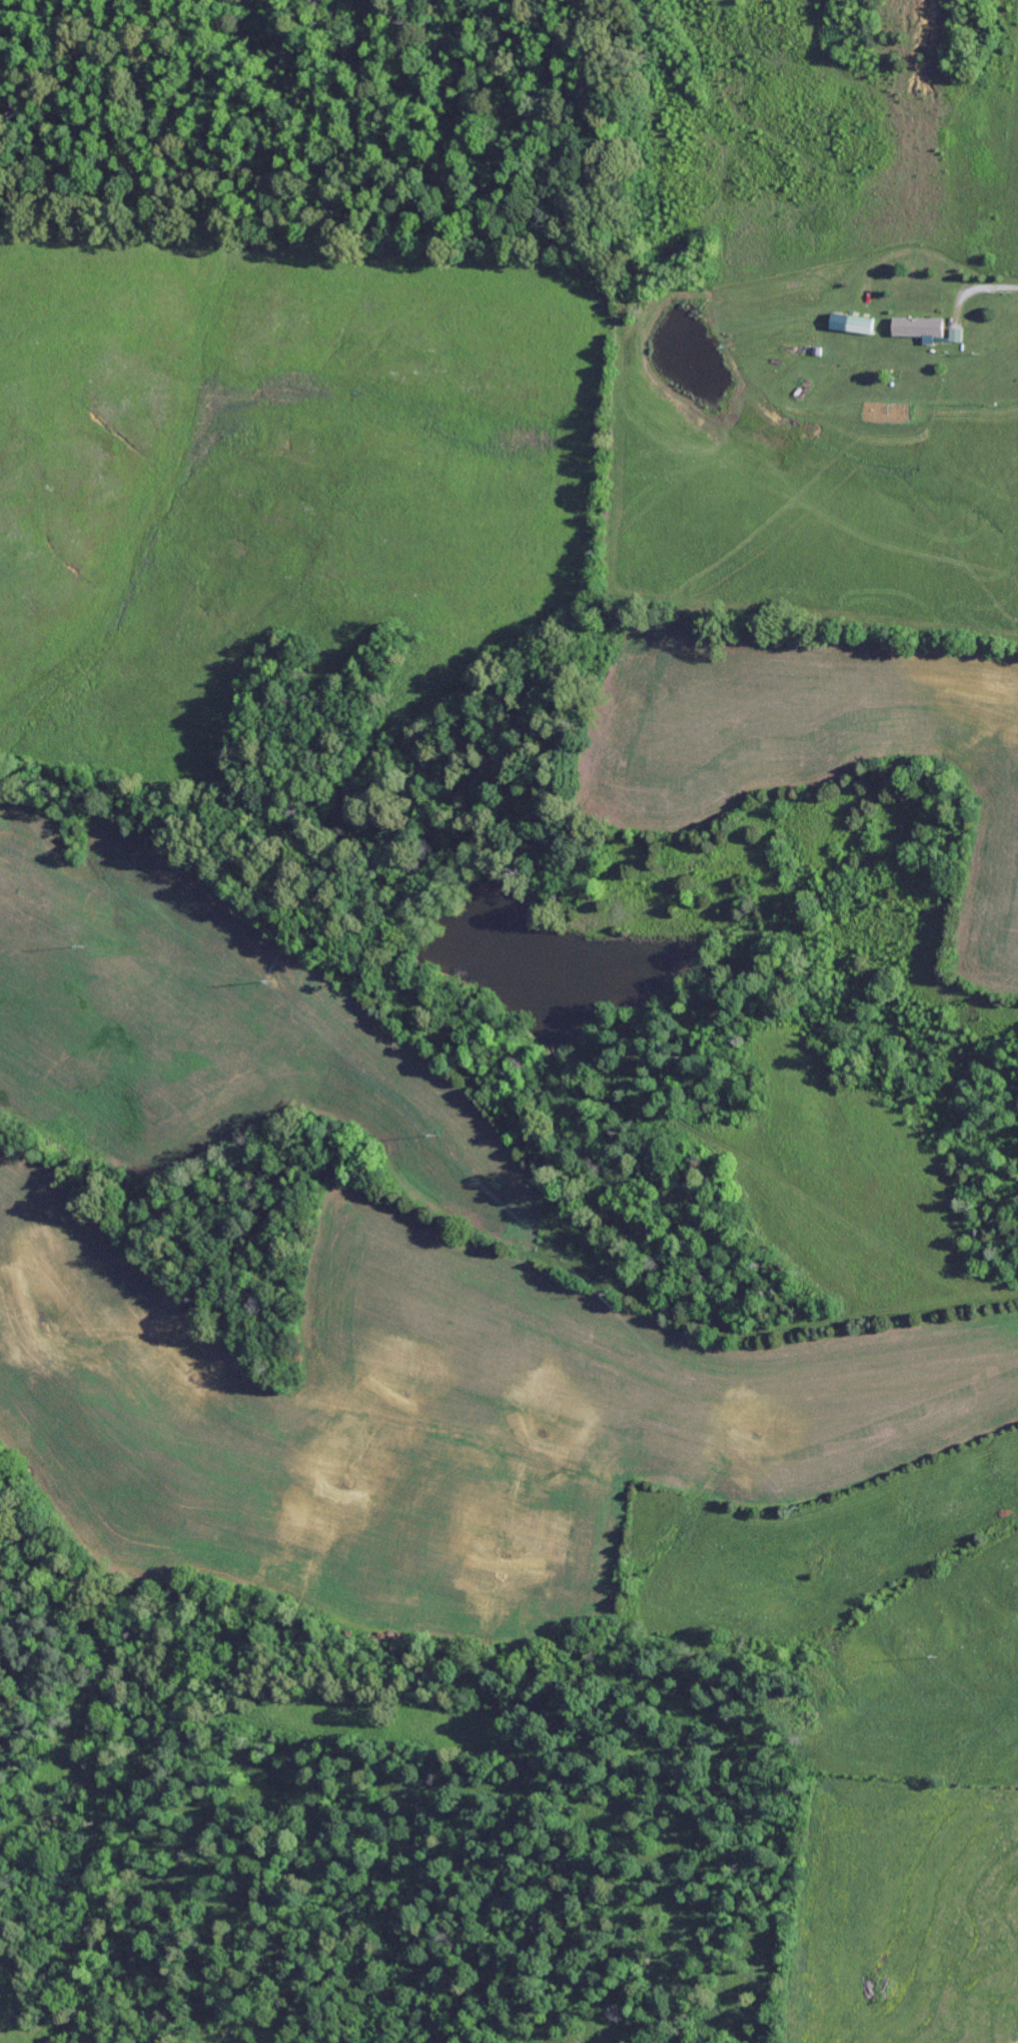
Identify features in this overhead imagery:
road: (994, 289)
building: (853, 325)
building: (921, 329)
building: (958, 336)

